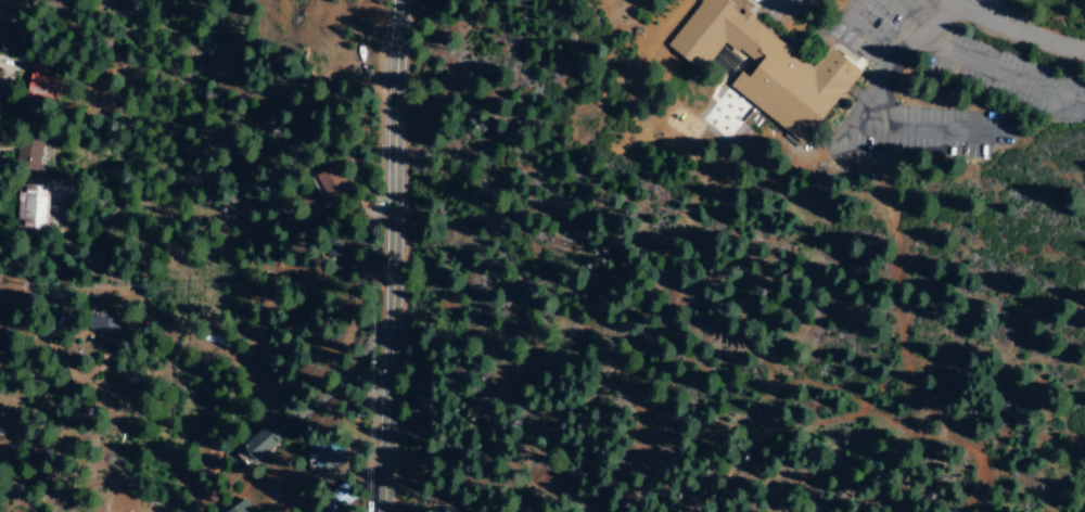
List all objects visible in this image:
parking lot: (779, 7)
road: (865, 29)
road: (1024, 29)
road: (897, 60)
road: (992, 66)
building: (766, 67)
parking lot: (1001, 74)
building: (36, 80)
road: (926, 127)
building: (26, 153)
building: (30, 207)
road: (392, 256)
building: (259, 439)
building: (319, 450)
building: (238, 507)
building: (317, 511)

